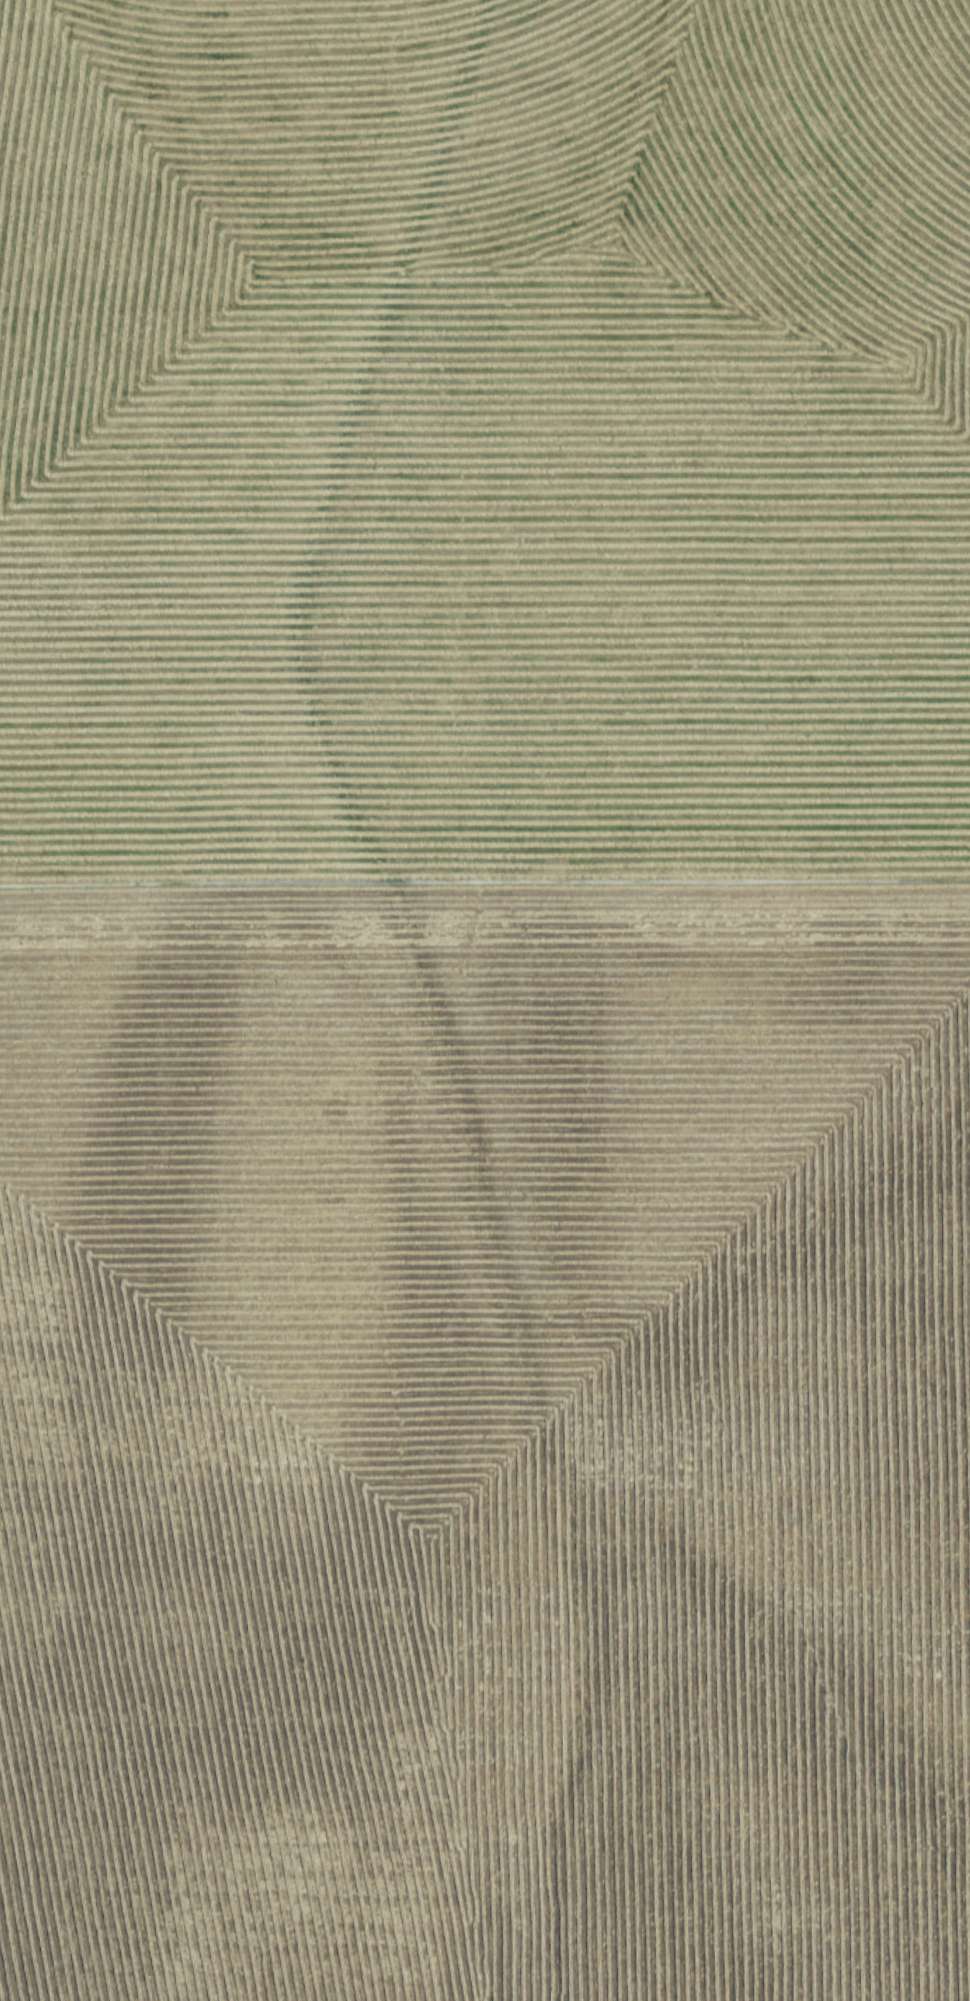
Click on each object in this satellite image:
crop: (485, 1000)

